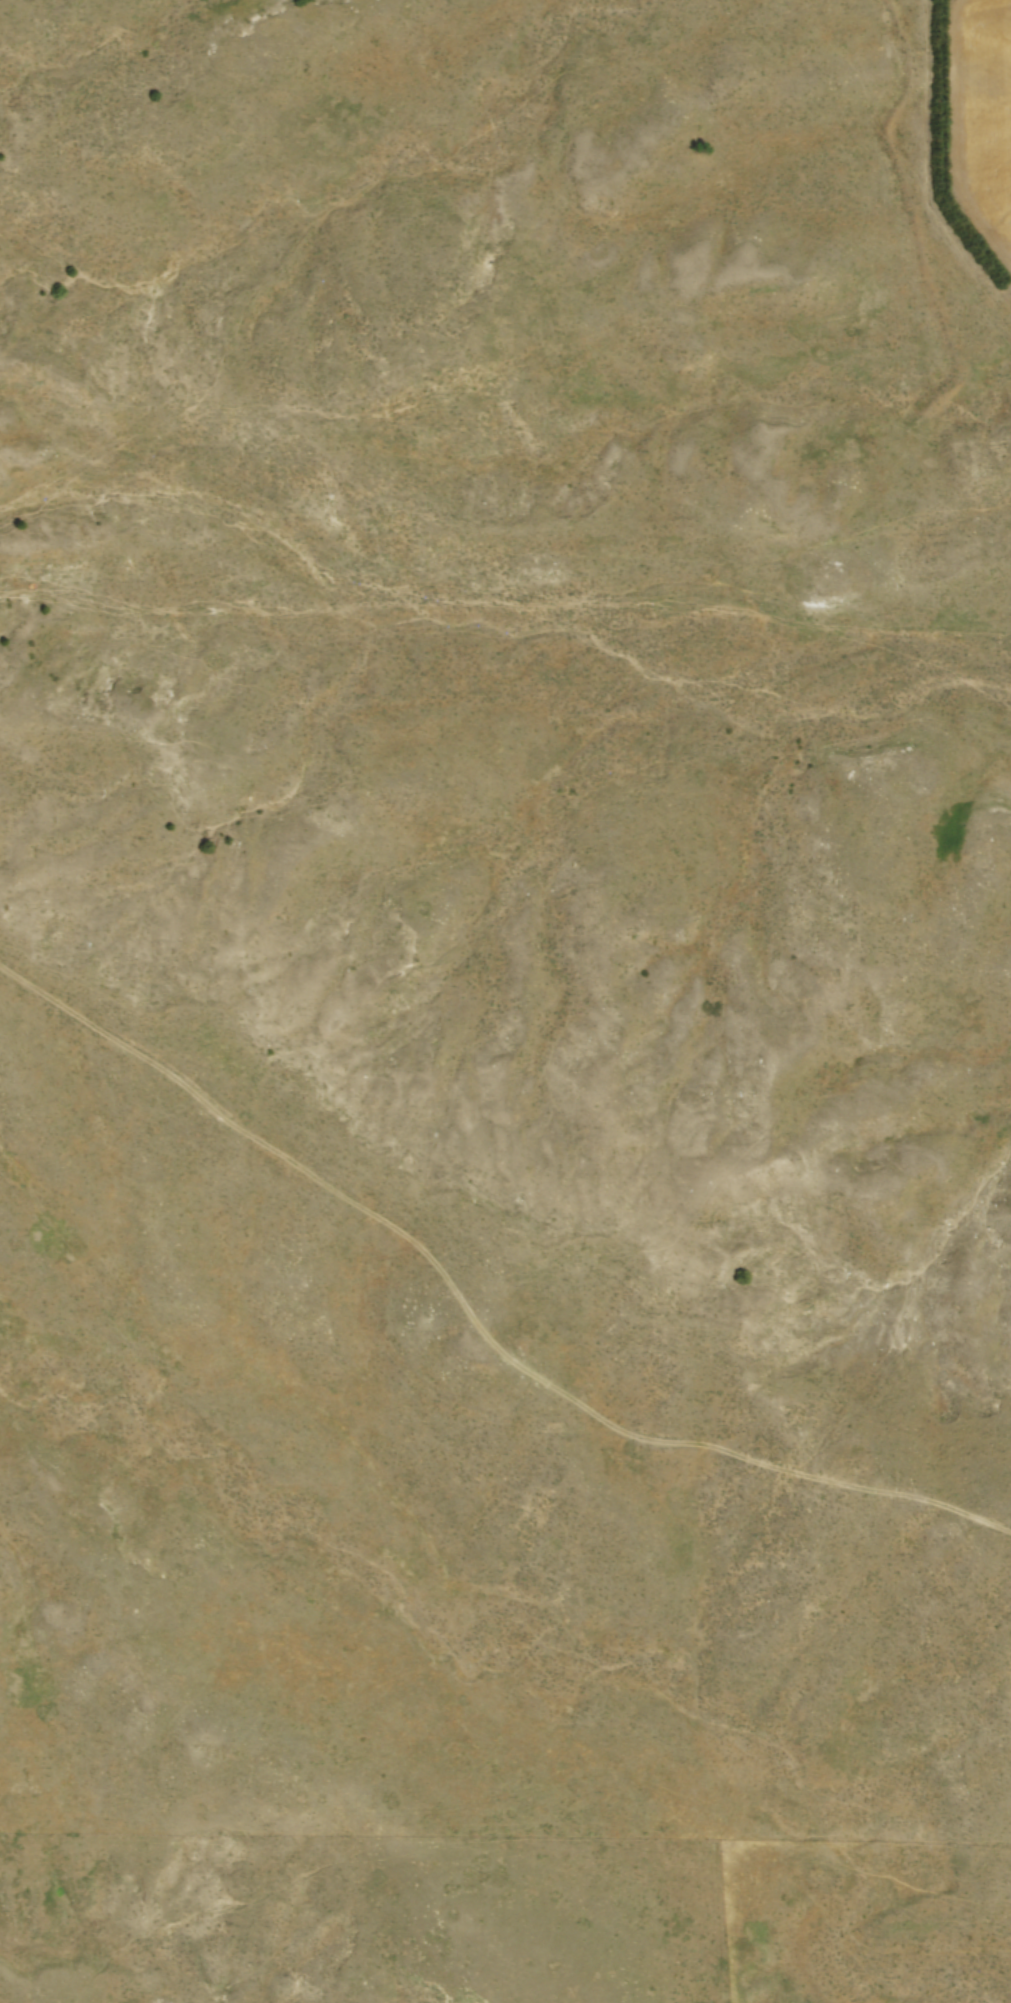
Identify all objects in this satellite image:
crop: (982, 115)

